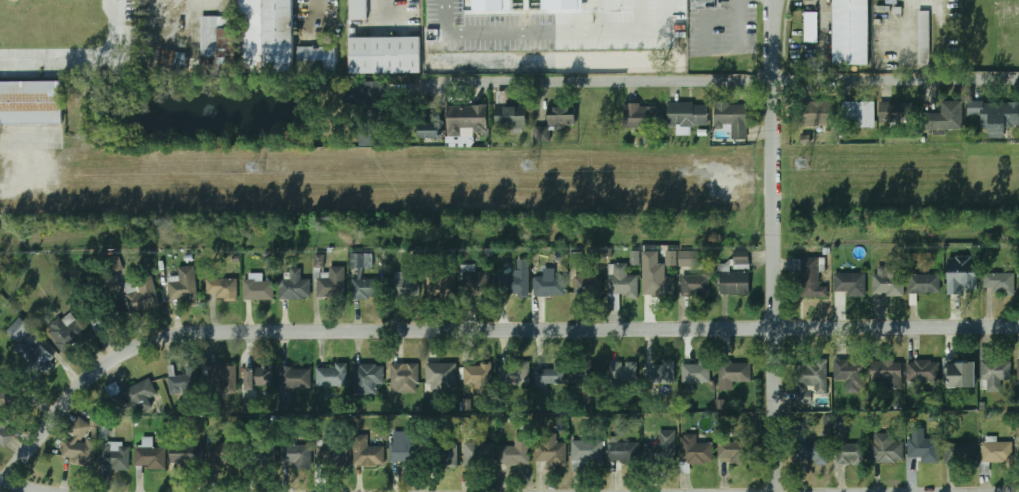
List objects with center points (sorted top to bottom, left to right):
road: (821, 1)
road: (393, 3)
building: (552, 4)
building: (567, 4)
building: (580, 4)
building: (709, 4)
road: (316, 5)
building: (527, 5)
street lamp: (621, 5)
building: (488, 6)
building: (469, 7)
building: (507, 7)
road: (191, 8)
building: (361, 8)
road: (706, 17)
road: (447, 21)
road: (588, 21)
building: (815, 24)
road: (740, 25)
parking lot: (557, 27)
building: (854, 30)
road: (906, 30)
building: (928, 34)
building: (271, 35)
road: (627, 39)
building: (218, 40)
road: (517, 42)
street lamp: (594, 49)
street lamp: (474, 50)
street lamp: (535, 51)
building: (389, 52)
building: (316, 58)
building: (172, 60)
road: (88, 63)
road: (726, 82)
building: (371, 91)
building: (30, 100)
building: (902, 107)
building: (819, 110)
building: (862, 111)
building: (997, 112)
building: (949, 113)
building: (511, 116)
building: (644, 116)
building: (688, 116)
building: (732, 119)
building: (467, 120)
building: (556, 122)
building: (430, 130)
road: (29, 142)
power tower: (531, 165)
power tower: (803, 166)
power tower: (255, 168)
road: (772, 245)
building: (574, 258)
building: (635, 258)
building: (671, 258)
building: (688, 258)
building: (741, 259)
building: (319, 260)
building: (361, 260)
building: (810, 275)
building: (963, 277)
building: (733, 280)
building: (889, 280)
building: (475, 281)
building: (621, 281)
building: (332, 283)
building: (440, 283)
building: (924, 283)
building: (1001, 283)
building: (658, 284)
building: (695, 284)
building: (851, 284)
building: (183, 285)
building: (404, 285)
building: (517, 285)
building: (588, 285)
building: (295, 286)
building: (550, 286)
building: (257, 287)
building: (367, 288)
building: (223, 289)
building: (142, 294)
building: (19, 329)
road: (478, 329)
building: (67, 332)
building: (37, 357)
building: (1018, 368)
building: (923, 370)
building: (623, 371)
building: (696, 371)
building: (888, 372)
building: (993, 372)
building: (582, 373)
building: (660, 373)
building: (734, 373)
building: (960, 373)
building: (332, 374)
building: (851, 374)
building: (514, 375)
building: (550, 375)
building: (259, 376)
building: (442, 376)
building: (223, 377)
building: (295, 377)
building: (405, 377)
building: (478, 377)
building: (367, 378)
building: (811, 380)
building: (185, 384)
building: (132, 396)
building: (11, 398)
building: (95, 419)
building: (840, 422)
building: (5, 431)
building: (81, 444)
building: (662, 446)
building: (404, 447)
building: (586, 449)
building: (887, 449)
building: (550, 450)
building: (736, 450)
building: (924, 450)
building: (220, 451)
building: (624, 451)
building: (694, 451)
building: (812, 451)
building: (994, 451)
building: (367, 452)
building: (960, 452)
building: (478, 453)
building: (516, 453)
building: (186, 454)
building: (332, 454)
building: (851, 454)
building: (115, 455)
building: (150, 455)
building: (262, 455)
building: (296, 455)
building: (447, 455)
road: (16, 488)

